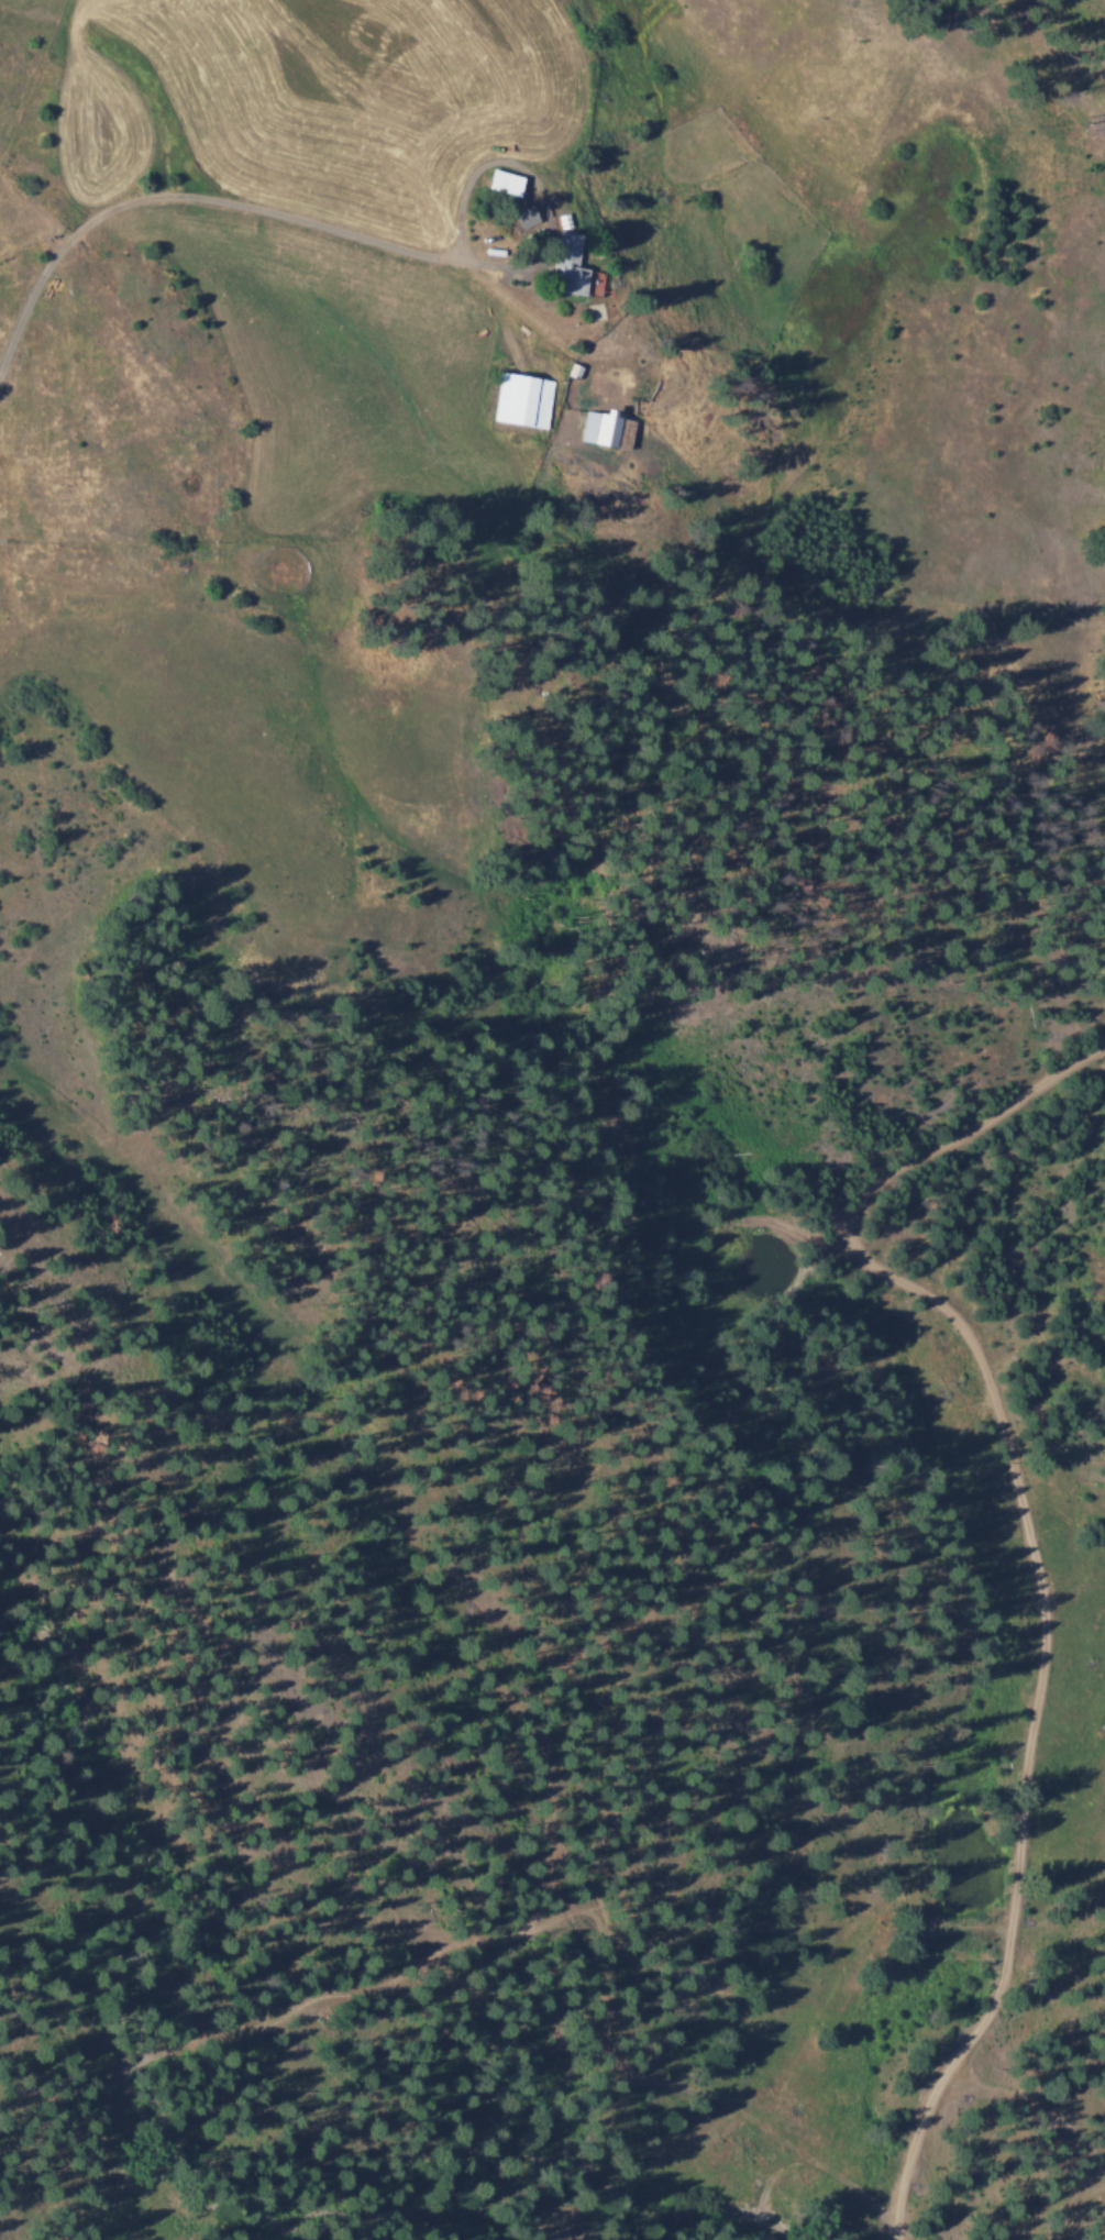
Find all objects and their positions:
building: (502, 181)
road: (178, 199)
building: (524, 214)
building: (570, 266)
building: (522, 399)
building: (606, 429)

